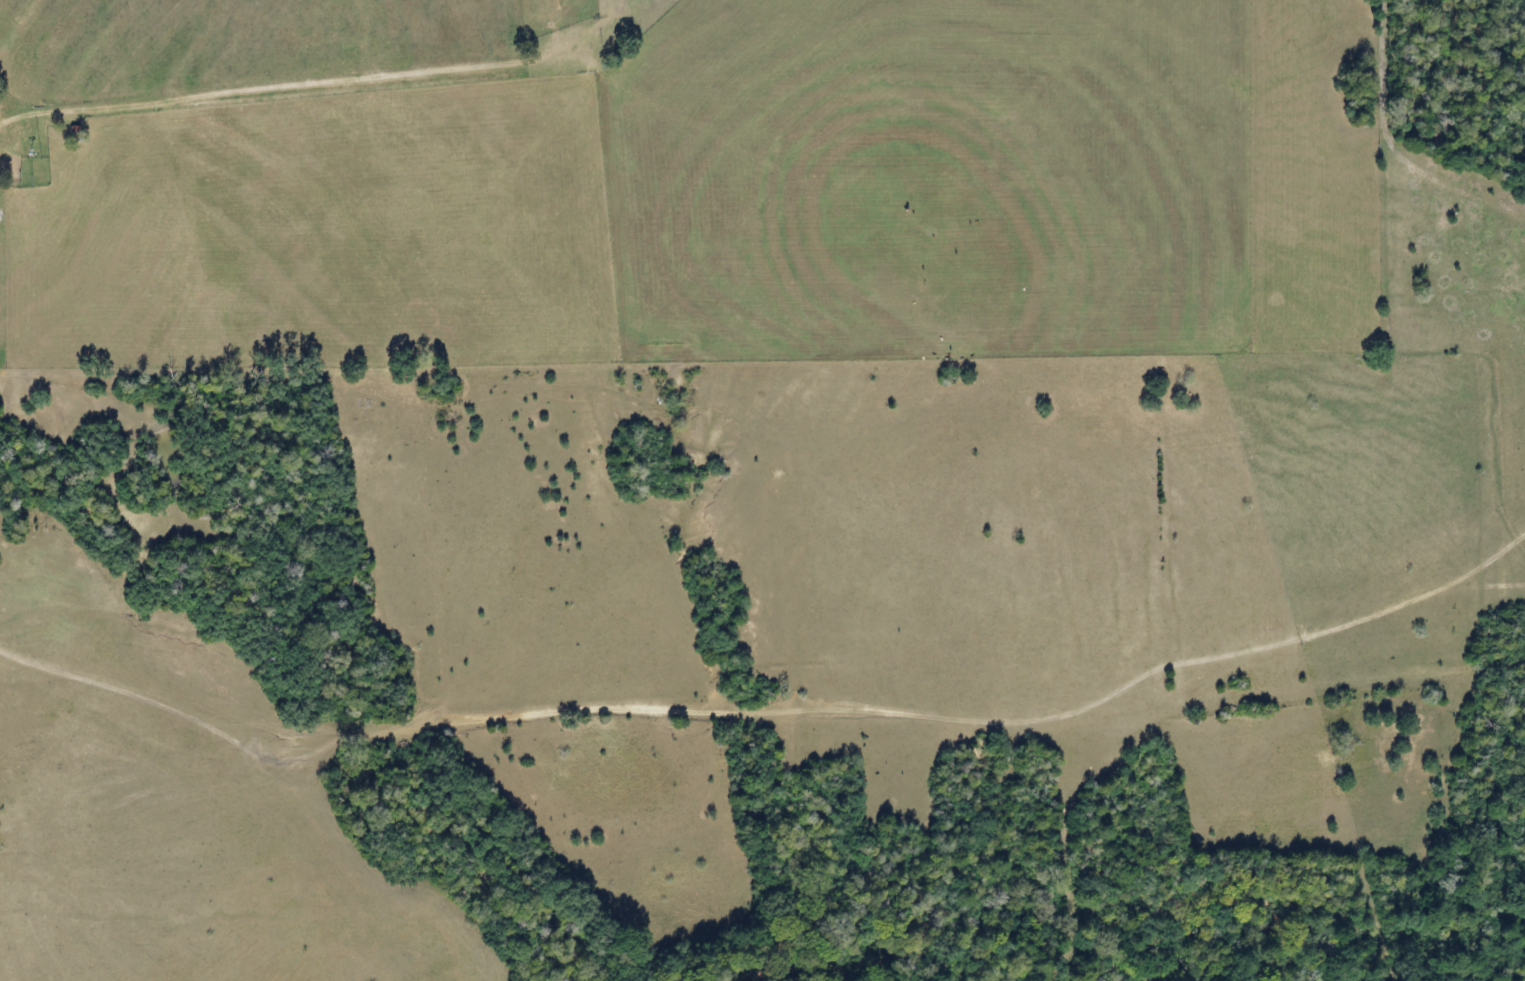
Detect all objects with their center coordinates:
road: (14, 121)
building: (8, 171)
road: (1345, 622)
road: (754, 709)

